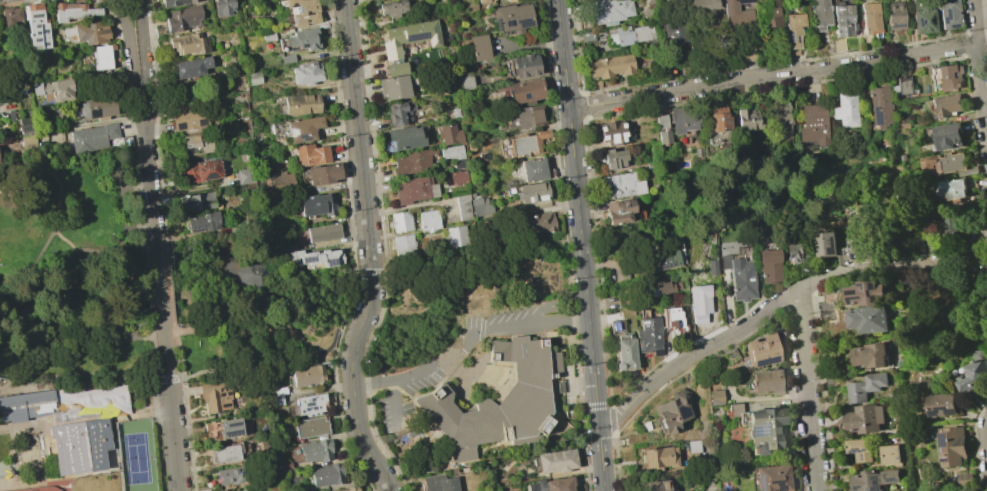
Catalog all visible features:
building: (502, 0)
building: (510, 0)
building: (483, 1)
building: (174, 2)
building: (702, 5)
road: (116, 6)
building: (222, 8)
building: (390, 8)
building: (73, 11)
building: (302, 11)
building: (610, 11)
building: (769, 12)
building: (737, 14)
building: (949, 14)
building: (10, 15)
building: (894, 15)
building: (819, 16)
building: (512, 17)
building: (870, 17)
building: (922, 18)
road: (985, 18)
building: (182, 19)
building: (843, 20)
road: (976, 22)
rooftop solar panel: (509, 24)
road: (966, 24)
rooftop solar panel: (523, 25)
building: (35, 26)
rooftop solar panel: (896, 26)
building: (792, 29)
building: (89, 32)
building: (674, 32)
building: (628, 35)
building: (409, 36)
building: (586, 36)
building: (268, 37)
rooftop solar panel: (415, 38)
rooftop solar panel: (789, 38)
building: (303, 39)
rooftop solar panel: (796, 40)
building: (188, 43)
building: (478, 47)
building: (102, 57)
road: (144, 59)
building: (286, 59)
road: (133, 66)
building: (522, 66)
building: (610, 66)
building: (190, 67)
building: (396, 68)
building: (305, 73)
road: (772, 76)
building: (947, 77)
building: (252, 78)
building: (466, 83)
road: (982, 85)
building: (901, 86)
building: (394, 87)
building: (59, 89)
building: (525, 91)
building: (300, 104)
building: (947, 104)
building: (879, 107)
building: (98, 109)
building: (845, 109)
building: (396, 114)
rooftop solar panel: (94, 115)
building: (527, 116)
building: (779, 118)
building: (189, 119)
building: (683, 119)
building: (717, 119)
building: (746, 119)
rooftop solar panel: (202, 122)
building: (813, 124)
rooftop solar panel: (181, 126)
building: (661, 127)
building: (302, 128)
building: (33, 130)
building: (613, 133)
rooftop solar panel: (294, 134)
building: (448, 134)
building: (949, 136)
building: (93, 137)
building: (405, 138)
building: (526, 142)
building: (195, 143)
rooftop solar panel: (189, 150)
road: (358, 150)
building: (451, 152)
building: (311, 155)
building: (614, 158)
building: (413, 161)
building: (945, 162)
building: (533, 169)
building: (200, 171)
road: (26, 174)
building: (323, 174)
rooftop solar panel: (209, 176)
building: (245, 176)
building: (458, 177)
building: (283, 180)
road: (133, 185)
building: (623, 185)
road: (116, 187)
road: (150, 187)
building: (953, 188)
building: (413, 189)
building: (533, 192)
road: (60, 198)
building: (196, 201)
building: (314, 205)
building: (472, 206)
building: (620, 211)
building: (428, 220)
building: (400, 221)
building: (202, 222)
building: (542, 222)
road: (140, 226)
building: (322, 232)
building: (948, 233)
building: (456, 236)
road: (984, 238)
road: (66, 240)
building: (402, 244)
building: (826, 244)
road: (580, 245)
road: (103, 247)
building: (857, 250)
building: (793, 252)
rooftop solar panel: (835, 252)
road: (475, 255)
building: (316, 257)
building: (664, 260)
rooftop solar panel: (307, 263)
rooftop solar panel: (792, 264)
rooftop solar panel: (330, 265)
building: (768, 265)
building: (711, 267)
road: (898, 268)
building: (243, 274)
road: (32, 278)
road: (57, 278)
building: (739, 278)
road: (96, 279)
road: (167, 288)
building: (659, 288)
road: (85, 292)
road: (161, 292)
building: (866, 293)
road: (258, 297)
road: (203, 301)
building: (699, 303)
park: (251, 304)
road: (94, 306)
road: (21, 307)
road: (61, 316)
road: (363, 316)
road: (98, 318)
building: (869, 319)
road: (115, 321)
building: (674, 321)
parking lot: (507, 322)
road: (13, 325)
road: (137, 326)
park: (72, 331)
road: (275, 333)
road: (150, 334)
road: (68, 336)
building: (649, 336)
road: (5, 340)
road: (468, 346)
road: (217, 348)
rooftop solar panel: (521, 350)
building: (761, 351)
building: (625, 354)
road: (694, 354)
building: (870, 356)
road: (150, 358)
road: (14, 359)
building: (307, 375)
building: (974, 375)
road: (185, 377)
parking lot: (418, 377)
building: (764, 382)
building: (922, 385)
building: (867, 387)
road: (807, 390)
building: (215, 396)
building: (714, 397)
rooftop solar panel: (310, 399)
building: (498, 400)
road: (393, 403)
building: (310, 404)
rooftop solar panel: (310, 404)
building: (942, 404)
road: (702, 407)
rooftop solar panel: (306, 409)
rooftop solar panel: (312, 409)
road: (171, 410)
parking lot: (391, 410)
building: (672, 411)
road: (354, 415)
rooftop solar panel: (946, 417)
building: (866, 418)
rooftop solar panel: (681, 420)
building: (71, 422)
building: (760, 426)
building: (310, 427)
building: (222, 429)
rooftop solar panel: (753, 436)
rooftop solar panel: (763, 438)
building: (693, 446)
road: (975, 446)
building: (953, 447)
building: (860, 449)
building: (316, 450)
rooftop solar panel: (948, 450)
building: (224, 454)
park: (135, 455)
building: (890, 455)
building: (659, 457)
building: (555, 461)
road: (709, 462)
building: (231, 475)
building: (327, 475)
building: (771, 477)
building: (966, 479)
building: (874, 480)
building: (439, 483)
building: (551, 484)
building: (657, 486)
building: (350, 488)
building: (916, 489)
building: (244, 490)
rooftop solar panel: (761, 490)
rooftop solar panel: (891, 490)
building: (971, 490)

